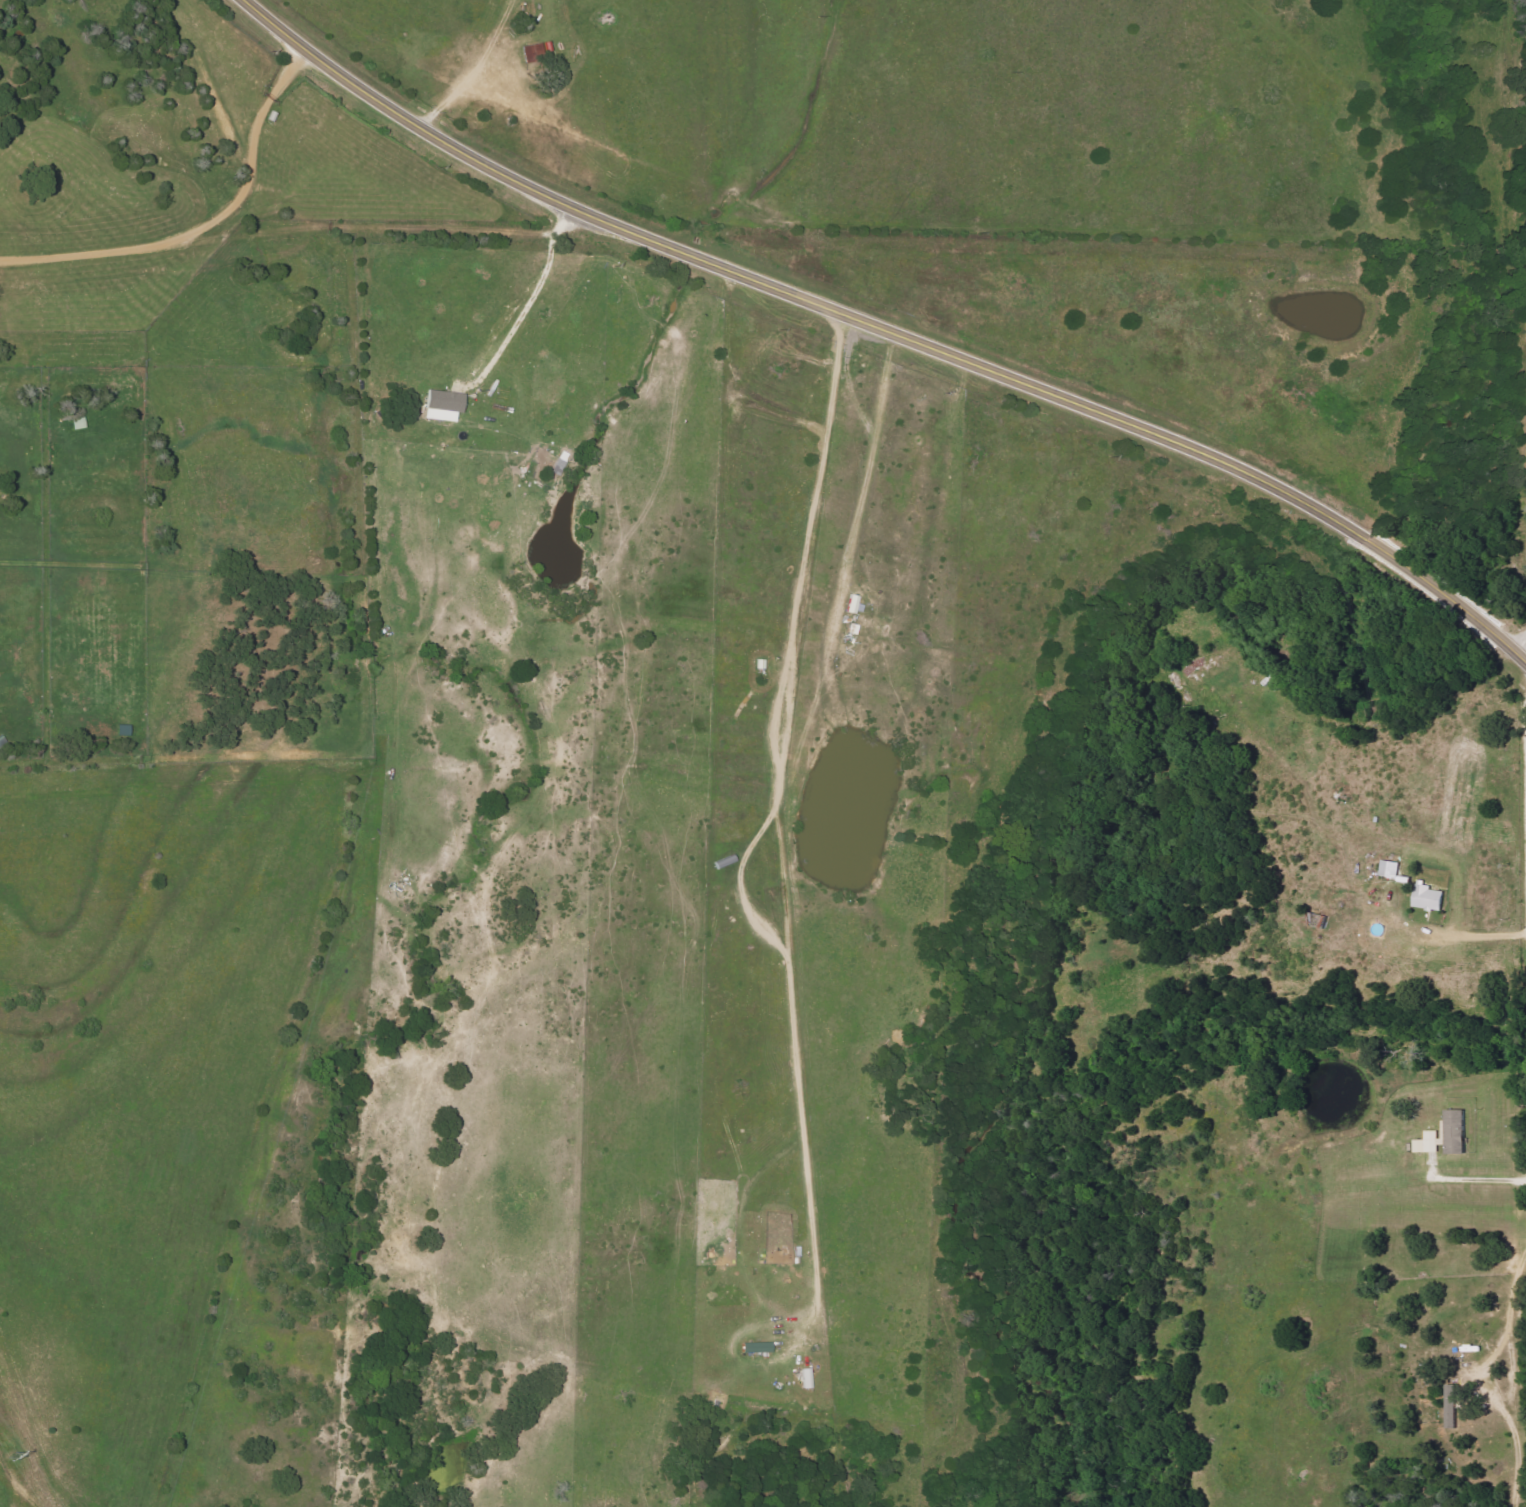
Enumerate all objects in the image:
road: (198, 212)
road: (527, 301)
road: (886, 332)
building: (443, 404)
building: (854, 604)
road: (1517, 640)
road: (774, 811)
building: (1389, 868)
building: (1429, 898)
road: (1475, 939)
building: (1445, 1135)
building: (755, 1347)
road: (1483, 1378)
building: (1452, 1407)
power tower: (9, 1453)

